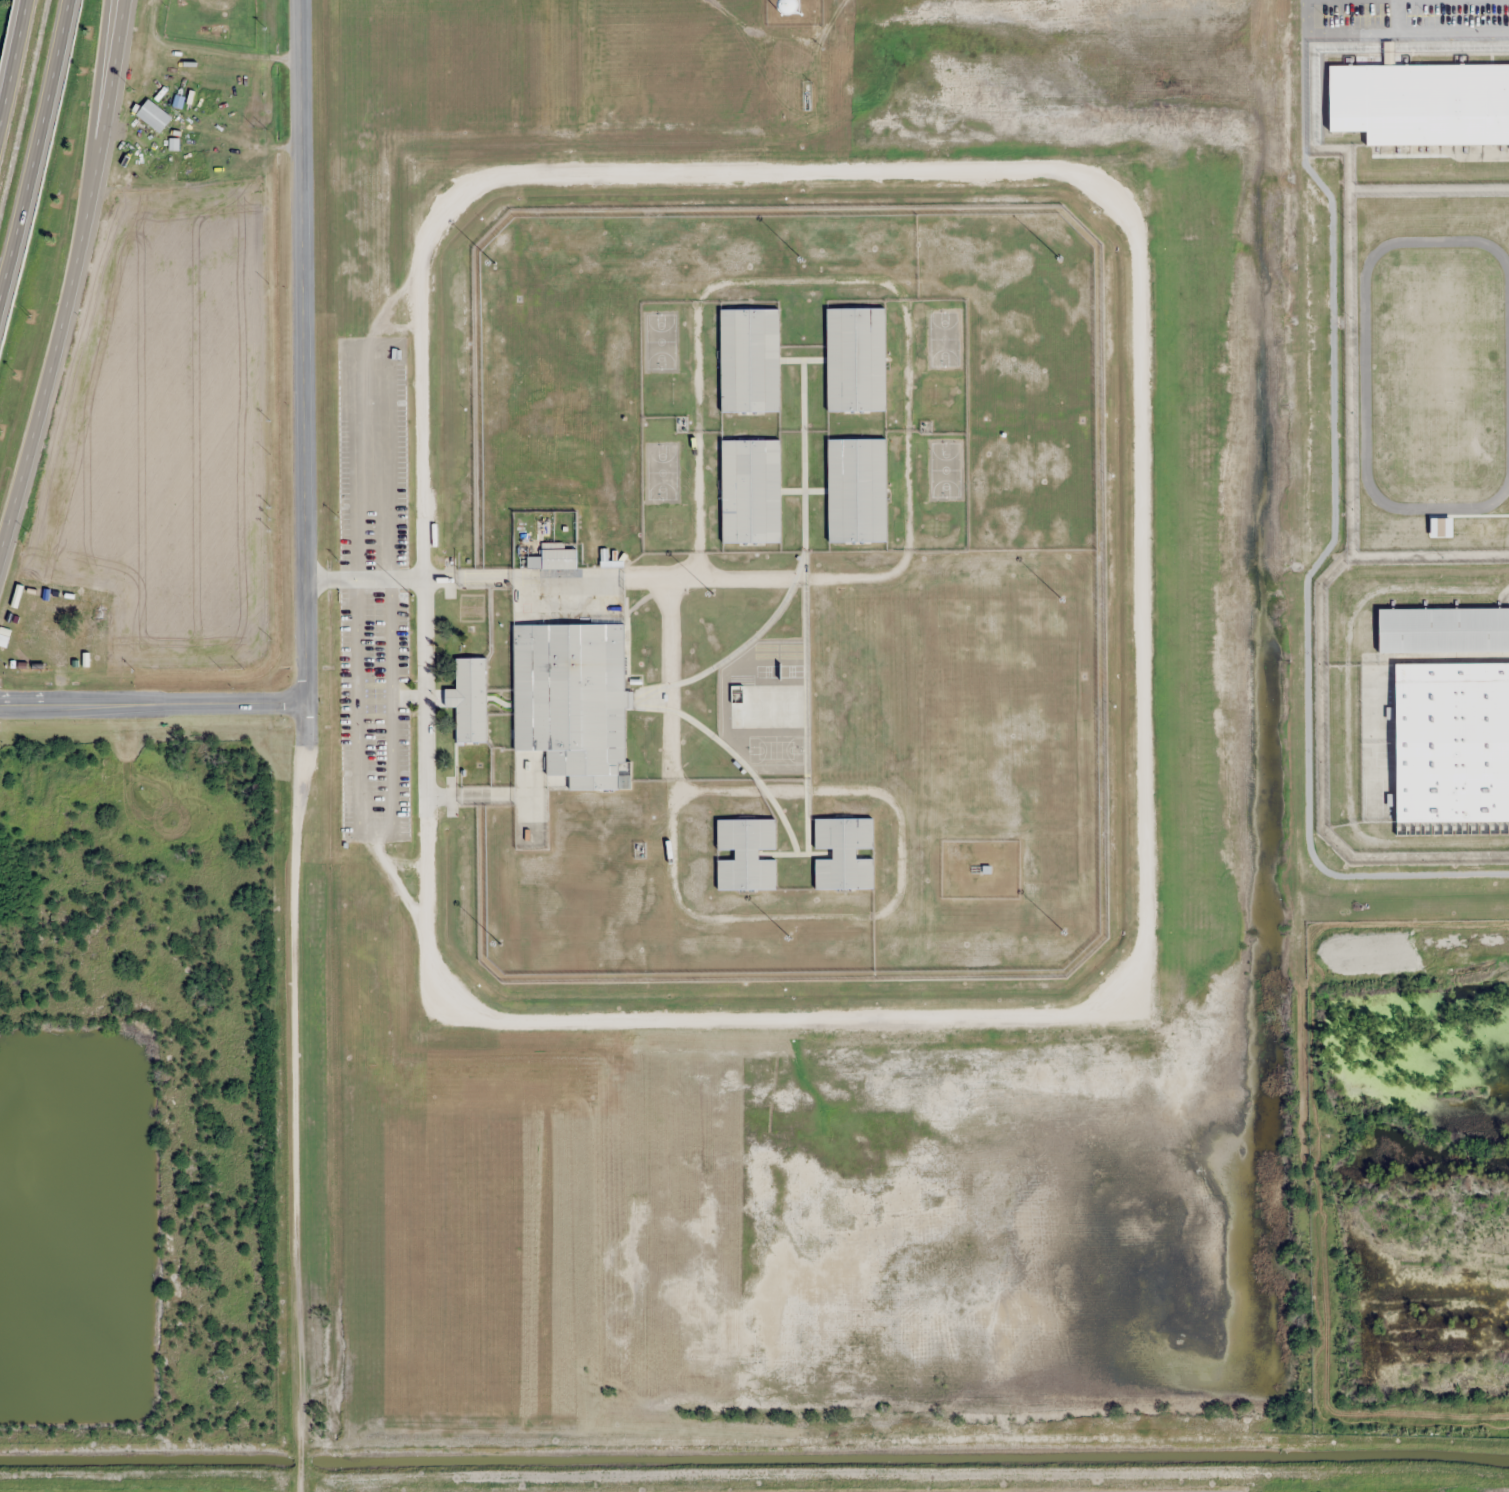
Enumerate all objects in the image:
road: (11, 54)
road: (101, 84)
building: (1421, 103)
building: (153, 115)
road: (34, 148)
building: (1453, 233)
road: (69, 276)
building: (1454, 302)
road: (301, 352)
building: (856, 359)
building: (749, 360)
building: (1454, 370)
building: (1454, 439)
building: (857, 490)
building: (751, 491)
building: (1454, 508)
building: (554, 557)
building: (1444, 629)
building: (470, 700)
building: (570, 704)
road: (152, 705)
building: (768, 706)
building: (1452, 742)
wastewater plant: (847, 830)
building: (746, 854)
building: (844, 854)
wastewater plant: (848, 869)
road: (301, 1098)
road: (907, 1415)

